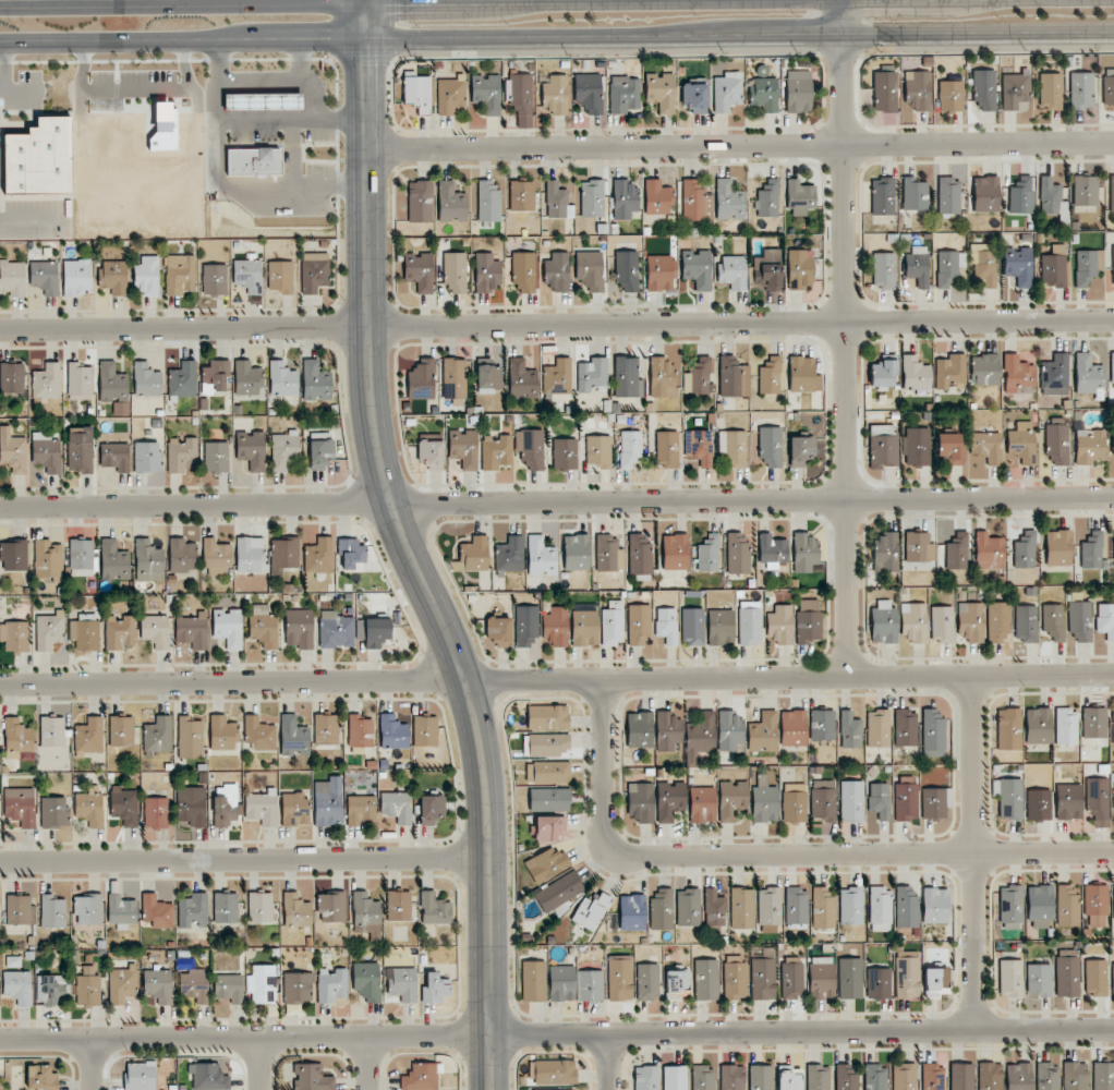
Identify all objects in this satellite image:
road: (365, 1)
road: (484, 1)
traffic signals: (366, 2)
road: (183, 3)
road: (838, 17)
road: (556, 37)
traffic signals: (366, 39)
road: (3, 58)
building: (1109, 86)
building: (984, 88)
road: (838, 89)
building: (417, 90)
building: (917, 90)
building: (1015, 90)
building: (1050, 90)
building: (1081, 90)
building: (589, 92)
building: (661, 92)
building: (727, 92)
building: (798, 92)
building: (885, 92)
building: (487, 93)
building: (623, 94)
building: (764, 94)
building: (556, 95)
building: (451, 96)
building: (694, 96)
building: (950, 96)
building: (521, 97)
building: (261, 102)
building: (165, 126)
road: (739, 146)
building: (38, 158)
building: (251, 161)
building: (1086, 191)
building: (1112, 193)
building: (915, 194)
building: (985, 194)
building: (948, 195)
building: (1020, 195)
building: (882, 196)
building: (657, 197)
building: (800, 197)
building: (592, 198)
building: (623, 198)
building: (1051, 198)
building: (767, 199)
building: (729, 201)
building: (420, 202)
building: (488, 202)
building: (557, 202)
building: (695, 202)
building: (451, 203)
road: (22, 218)
building: (983, 263)
building: (1113, 263)
building: (918, 265)
building: (1018, 265)
building: (1054, 266)
building: (1085, 267)
building: (697, 268)
building: (948, 268)
building: (800, 269)
building: (420, 270)
building: (627, 270)
building: (767, 270)
building: (314, 271)
building: (456, 271)
building: (523, 271)
building: (589, 271)
building: (732, 271)
building: (883, 271)
building: (486, 272)
building: (557, 272)
building: (661, 272)
building: (180, 274)
building: (249, 275)
building: (146, 276)
building: (280, 276)
building: (45, 277)
building: (77, 277)
building: (112, 277)
building: (13, 279)
building: (214, 279)
road: (557, 325)
building: (1112, 367)
building: (984, 370)
building: (950, 372)
building: (1016, 373)
building: (883, 374)
building: (916, 374)
building: (1087, 374)
building: (768, 375)
building: (802, 375)
building: (1054, 375)
building: (215, 376)
building: (592, 376)
building: (12, 377)
building: (558, 377)
building: (662, 377)
building: (698, 377)
building: (730, 377)
building: (455, 378)
building: (488, 378)
building: (522, 378)
building: (627, 378)
building: (183, 379)
building: (247, 379)
building: (282, 379)
building: (421, 379)
building: (47, 380)
building: (146, 380)
building: (80, 381)
building: (315, 381)
building: (112, 384)
road: (844, 411)
building: (1021, 443)
building: (1113, 444)
building: (1057, 445)
building: (770, 446)
building: (882, 446)
building: (917, 446)
building: (986, 446)
building: (463, 447)
building: (699, 447)
building: (732, 447)
building: (950, 447)
building: (1089, 447)
building: (530, 448)
building: (630, 448)
building: (80, 449)
building: (252, 449)
building: (666, 449)
building: (598, 450)
building: (801, 450)
building: (13, 451)
building: (283, 451)
building: (46, 452)
building: (320, 452)
building: (496, 452)
building: (431, 453)
building: (565, 453)
building: (182, 455)
building: (116, 456)
building: (146, 457)
building: (216, 457)
road: (557, 502)
road: (393, 523)
building: (918, 547)
building: (1058, 547)
building: (772, 549)
building: (1024, 549)
building: (1092, 550)
building: (576, 552)
building: (675, 552)
building: (710, 552)
building: (804, 552)
building: (884, 552)
building: (956, 552)
building: (989, 552)
building: (350, 553)
building: (738, 553)
building: (284, 554)
building: (608, 554)
building: (14, 555)
building: (181, 555)
building: (251, 555)
building: (472, 555)
building: (510, 555)
building: (639, 555)
building: (318, 556)
building: (541, 557)
building: (83, 558)
building: (217, 558)
building: (47, 560)
building: (113, 560)
building: (148, 561)
building: (809, 620)
building: (1105, 620)
building: (913, 621)
building: (971, 621)
building: (1054, 621)
building: (1080, 621)
building: (750, 622)
building: (883, 622)
building: (998, 622)
building: (612, 623)
building: (1026, 623)
building: (525, 625)
building: (639, 625)
building: (666, 625)
building: (942, 625)
building: (692, 626)
building: (779, 626)
building: (228, 627)
building: (263, 627)
building: (556, 627)
building: (721, 627)
building: (299, 628)
building: (583, 628)
building: (49, 630)
building: (155, 630)
building: (193, 630)
building: (336, 630)
building: (499, 630)
building: (376, 632)
building: (120, 633)
building: (85, 634)
building: (13, 637)
road: (556, 679)
building: (547, 717)
building: (1094, 723)
building: (1113, 724)
building: (822, 725)
building: (1038, 726)
building: (1066, 726)
building: (905, 727)
building: (792, 728)
building: (879, 728)
building: (1009, 728)
building: (326, 729)
building: (639, 729)
building: (121, 730)
building: (425, 730)
building: (849, 730)
building: (52, 731)
building: (360, 731)
building: (667, 731)
building: (222, 732)
building: (259, 732)
building: (392, 732)
building: (730, 732)
building: (763, 732)
building: (933, 734)
building: (88, 736)
building: (158, 736)
building: (293, 736)
building: (700, 737)
building: (17, 738)
building: (190, 738)
building: (549, 744)
road: (601, 765)
building: (548, 772)
building: (1113, 792)
building: (548, 798)
building: (731, 799)
building: (823, 799)
building: (905, 799)
building: (1010, 799)
building: (669, 800)
building: (880, 800)
building: (328, 801)
building: (641, 801)
building: (764, 801)
building: (851, 801)
building: (1068, 801)
building: (794, 802)
building: (935, 802)
building: (1098, 802)
building: (702, 804)
building: (1039, 804)
building: (20, 806)
building: (124, 806)
building: (192, 806)
building: (226, 806)
building: (262, 806)
building: (397, 806)
building: (89, 807)
building: (294, 809)
building: (360, 809)
building: (431, 809)
building: (53, 812)
building: (156, 812)
building: (550, 828)
road: (860, 850)
road: (970, 852)
road: (240, 860)
building: (546, 864)
building: (558, 892)
building: (1113, 900)
building: (935, 905)
building: (1040, 905)
building: (1067, 905)
building: (1095, 905)
building: (331, 906)
building: (399, 906)
building: (851, 906)
building: (1010, 906)
building: (261, 907)
building: (688, 907)
building: (714, 908)
building: (742, 908)
building: (797, 908)
building: (823, 908)
building: (906, 908)
building: (19, 909)
building: (88, 909)
building: (226, 909)
building: (434, 909)
building: (662, 909)
building: (881, 909)
building: (296, 910)
building: (768, 910)
building: (52, 911)
building: (121, 911)
building: (157, 911)
building: (193, 911)
building: (590, 911)
building: (632, 912)
building: (366, 915)
building: (619, 978)
building: (735, 978)
building: (821, 978)
building: (850, 978)
building: (907, 978)
building: (1010, 978)
building: (1095, 978)
building: (1113, 978)
building: (763, 979)
building: (705, 980)
building: (367, 981)
building: (533, 981)
building: (647, 981)
building: (791, 981)
building: (935, 981)
building: (1039, 981)
building: (402, 983)
building: (561, 983)
building: (676, 983)
building: (879, 983)
building: (122, 984)
building: (158, 985)
building: (331, 985)
building: (589, 985)
building: (17, 986)
building: (229, 988)
building: (298, 988)
building: (50, 989)
building: (263, 989)
building: (435, 989)
building: (88, 990)
road: (557, 1033)
road: (485, 1062)
road: (604, 1062)
road: (262, 1063)
road: (368, 1063)
road: (95, 1064)
building: (555, 1071)
building: (140, 1076)
building: (904, 1076)
building: (961, 1076)
building: (990, 1076)
building: (1018, 1076)
building: (1048, 1076)
building: (1075, 1076)
building: (1103, 1076)
building: (41, 1077)
building: (208, 1077)
building: (420, 1077)
building: (675, 1077)
building: (702, 1077)
building: (731, 1077)
building: (761, 1077)
building: (818, 1077)
building: (846, 1077)
building: (875, 1077)
building: (933, 1077)
building: (312, 1078)
building: (646, 1078)
building: (789, 1078)
building: (550, 1089)

